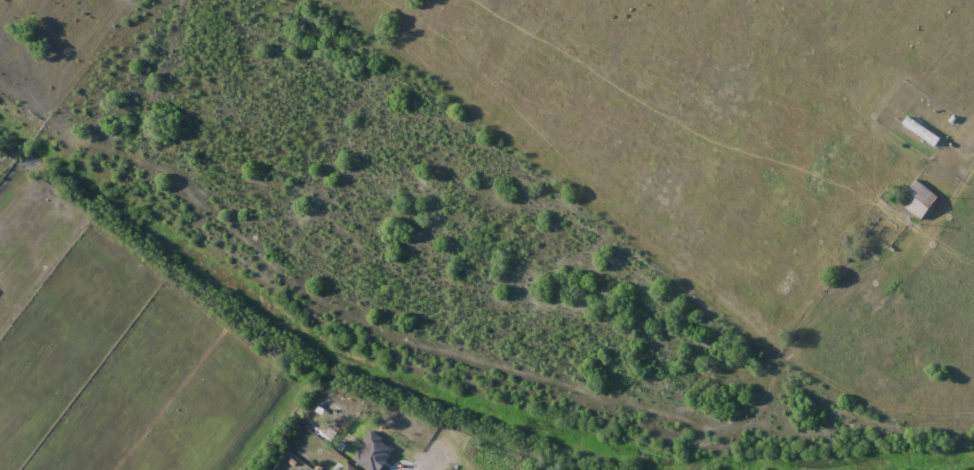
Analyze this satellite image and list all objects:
crop: (119, 376)

